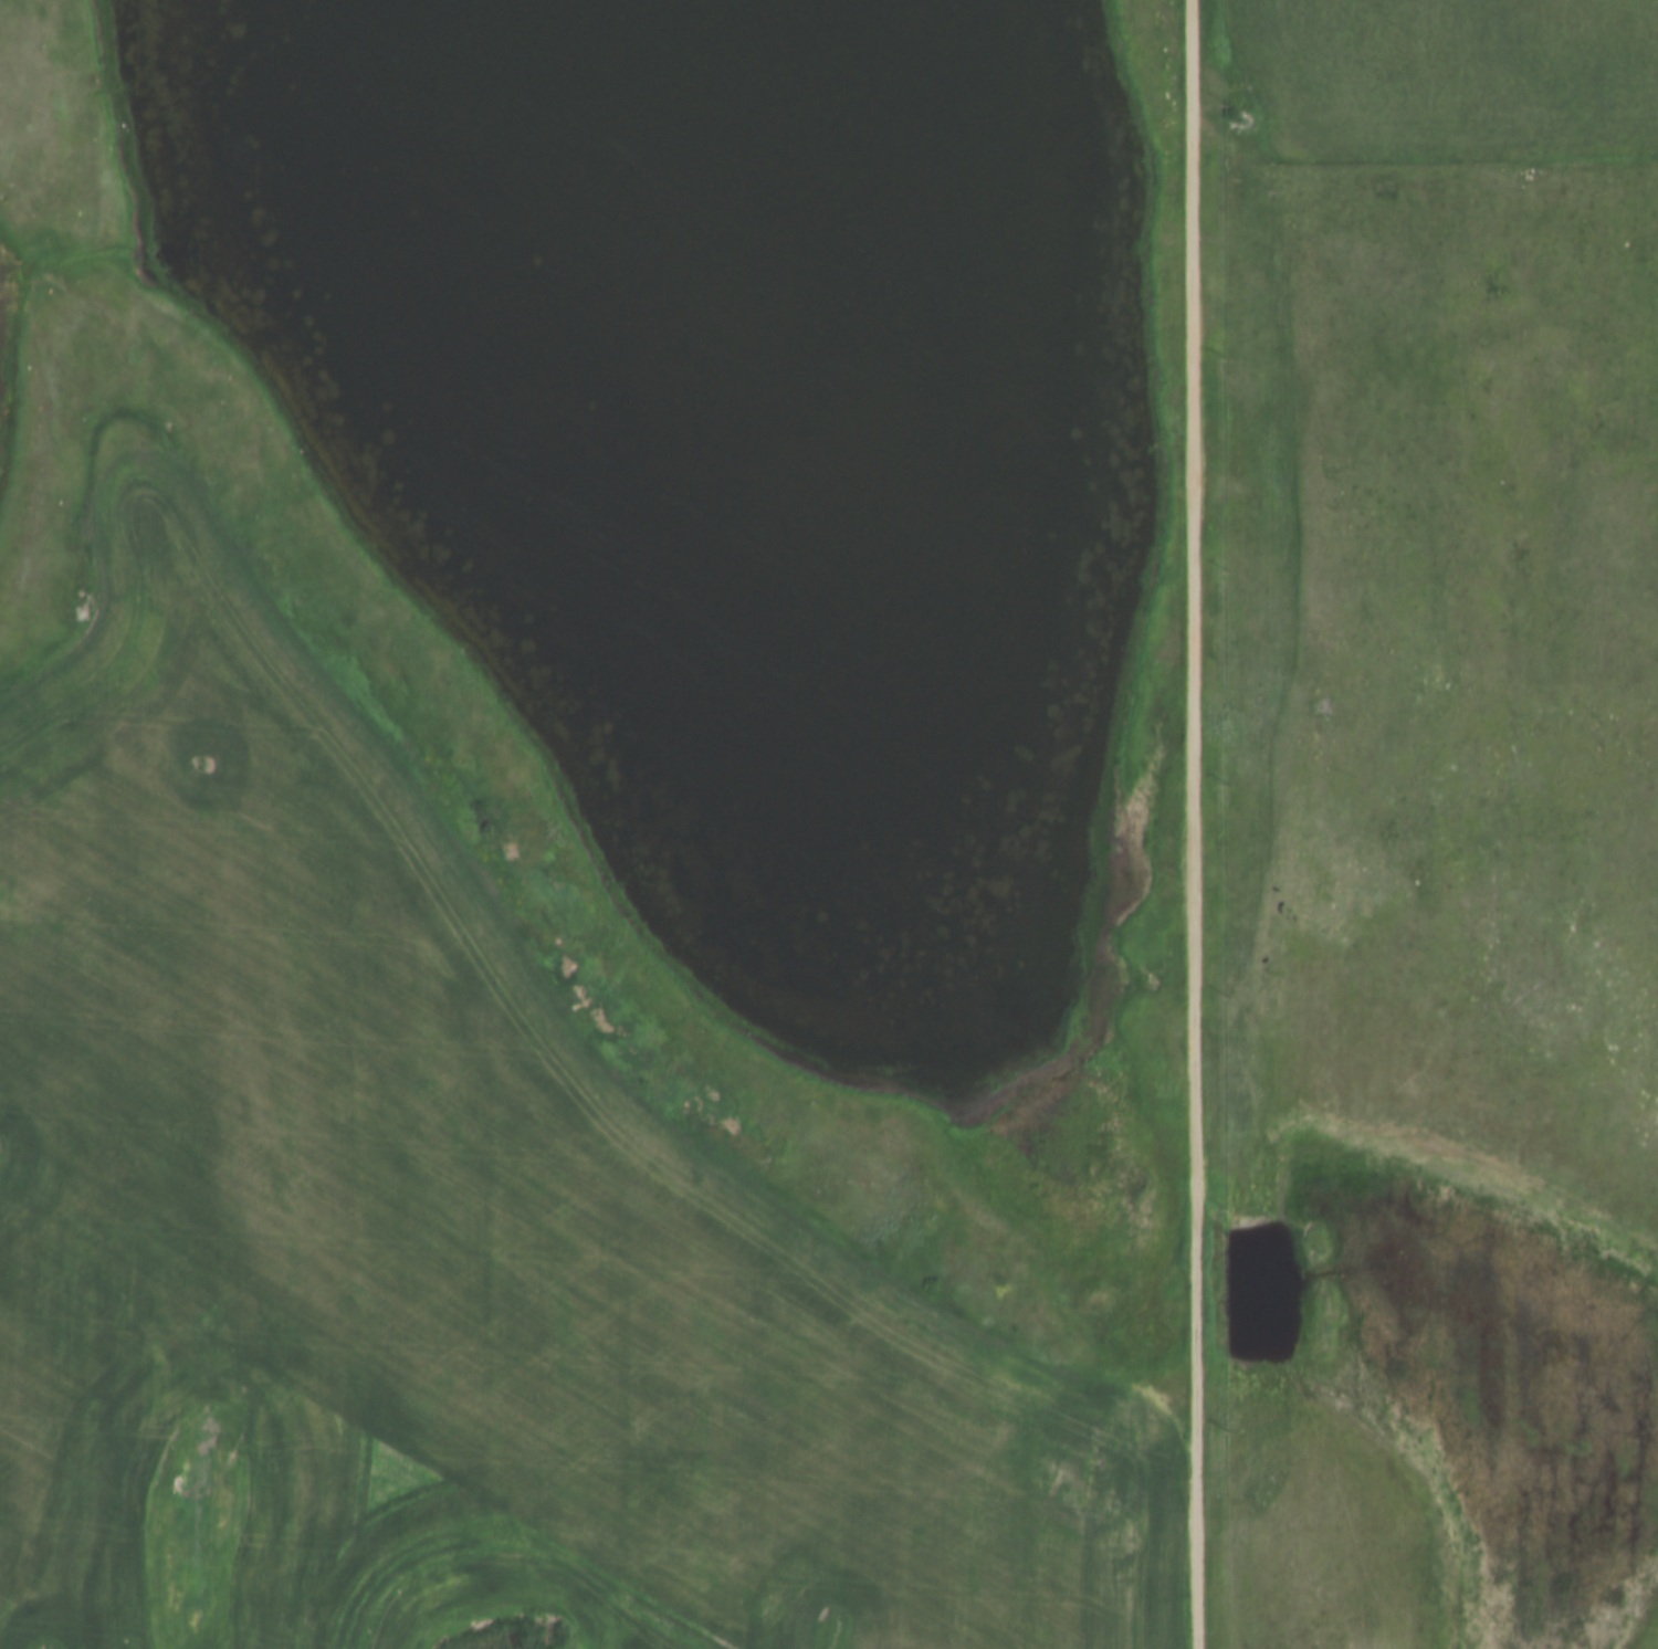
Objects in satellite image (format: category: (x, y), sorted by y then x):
road: (1194, 824)

